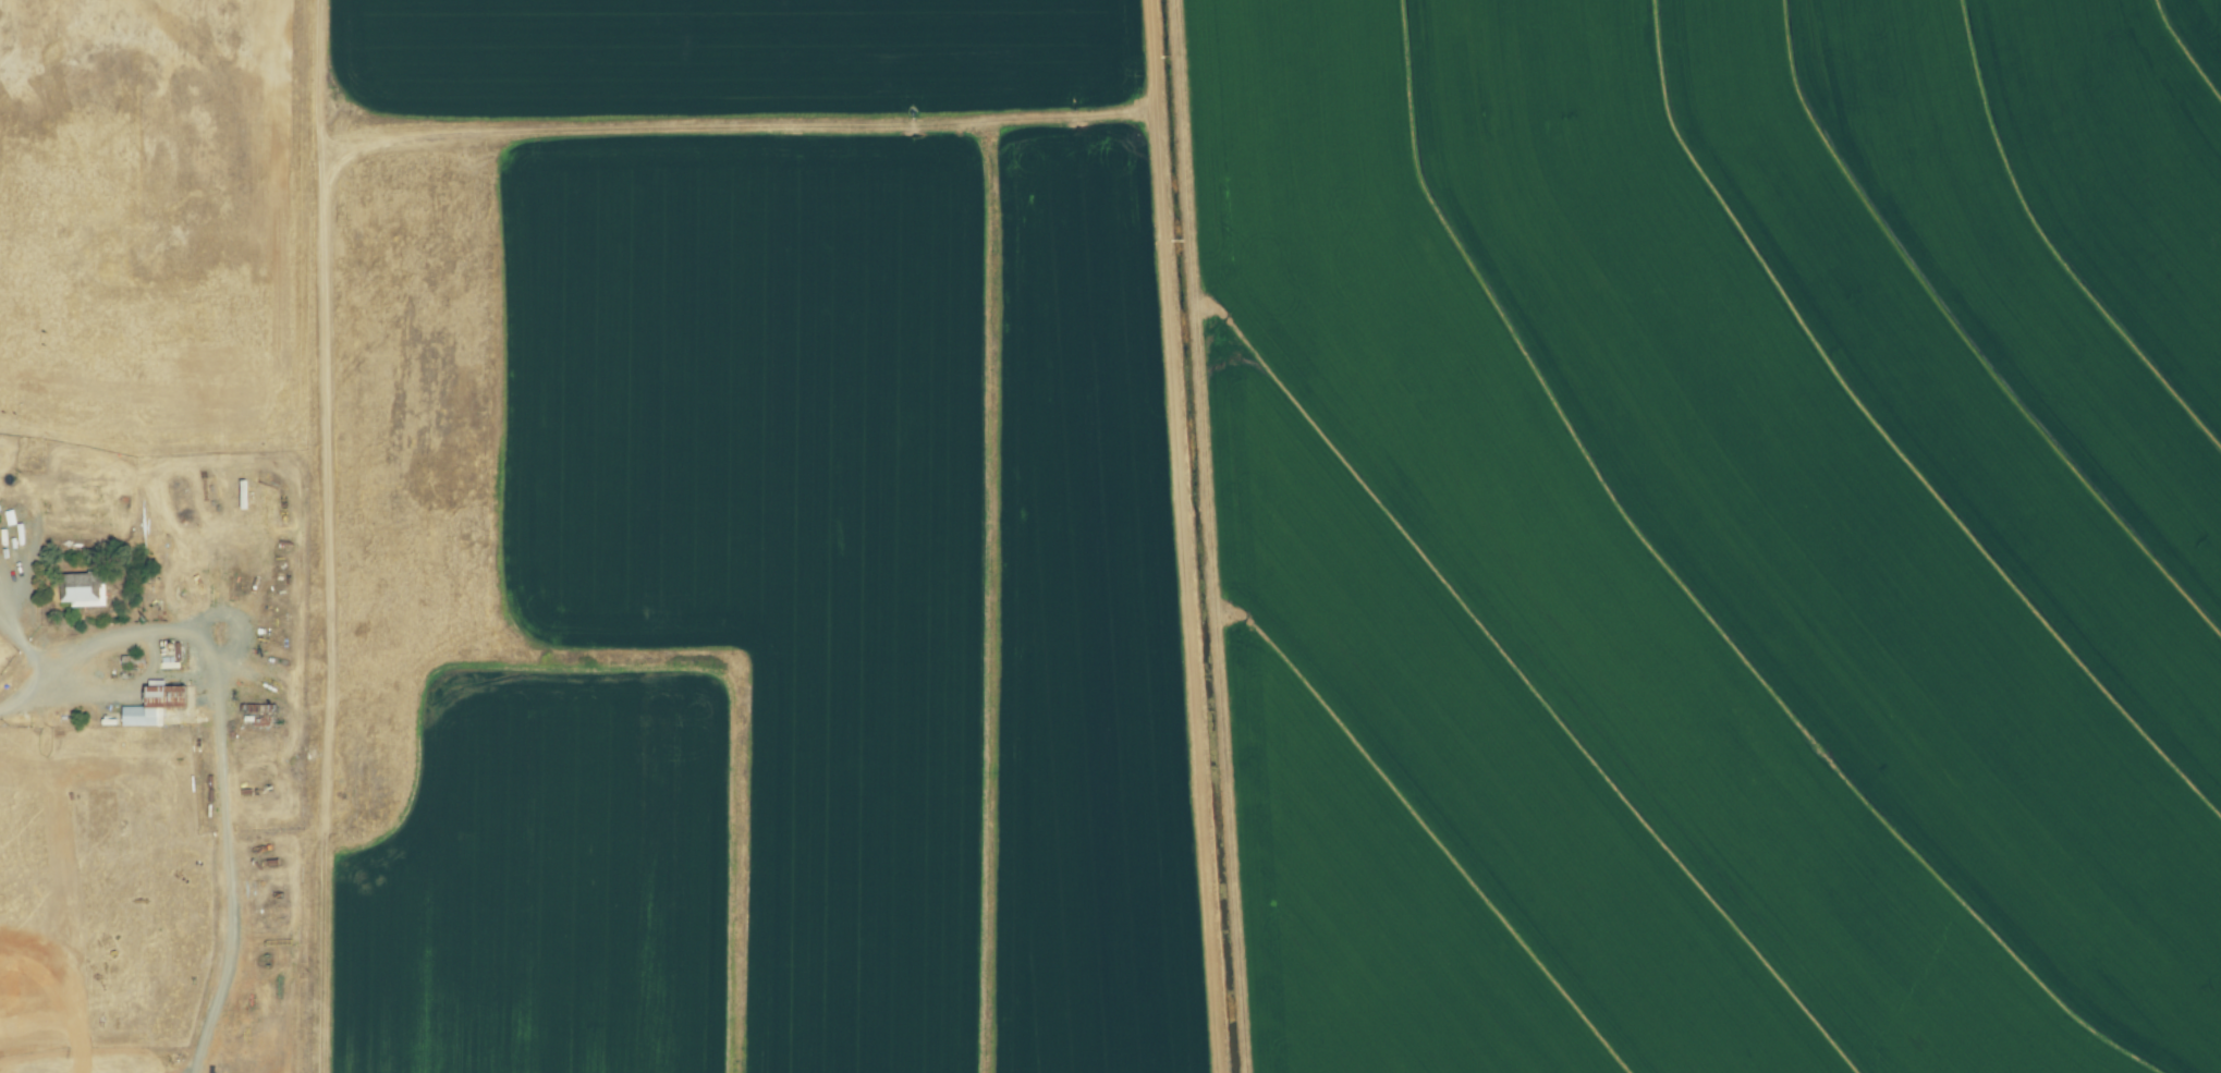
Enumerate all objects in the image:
building: (86, 595)
road: (20, 645)
building: (156, 706)
road: (1, 716)
road: (224, 729)
road: (191, 1066)
road: (198, 1066)

